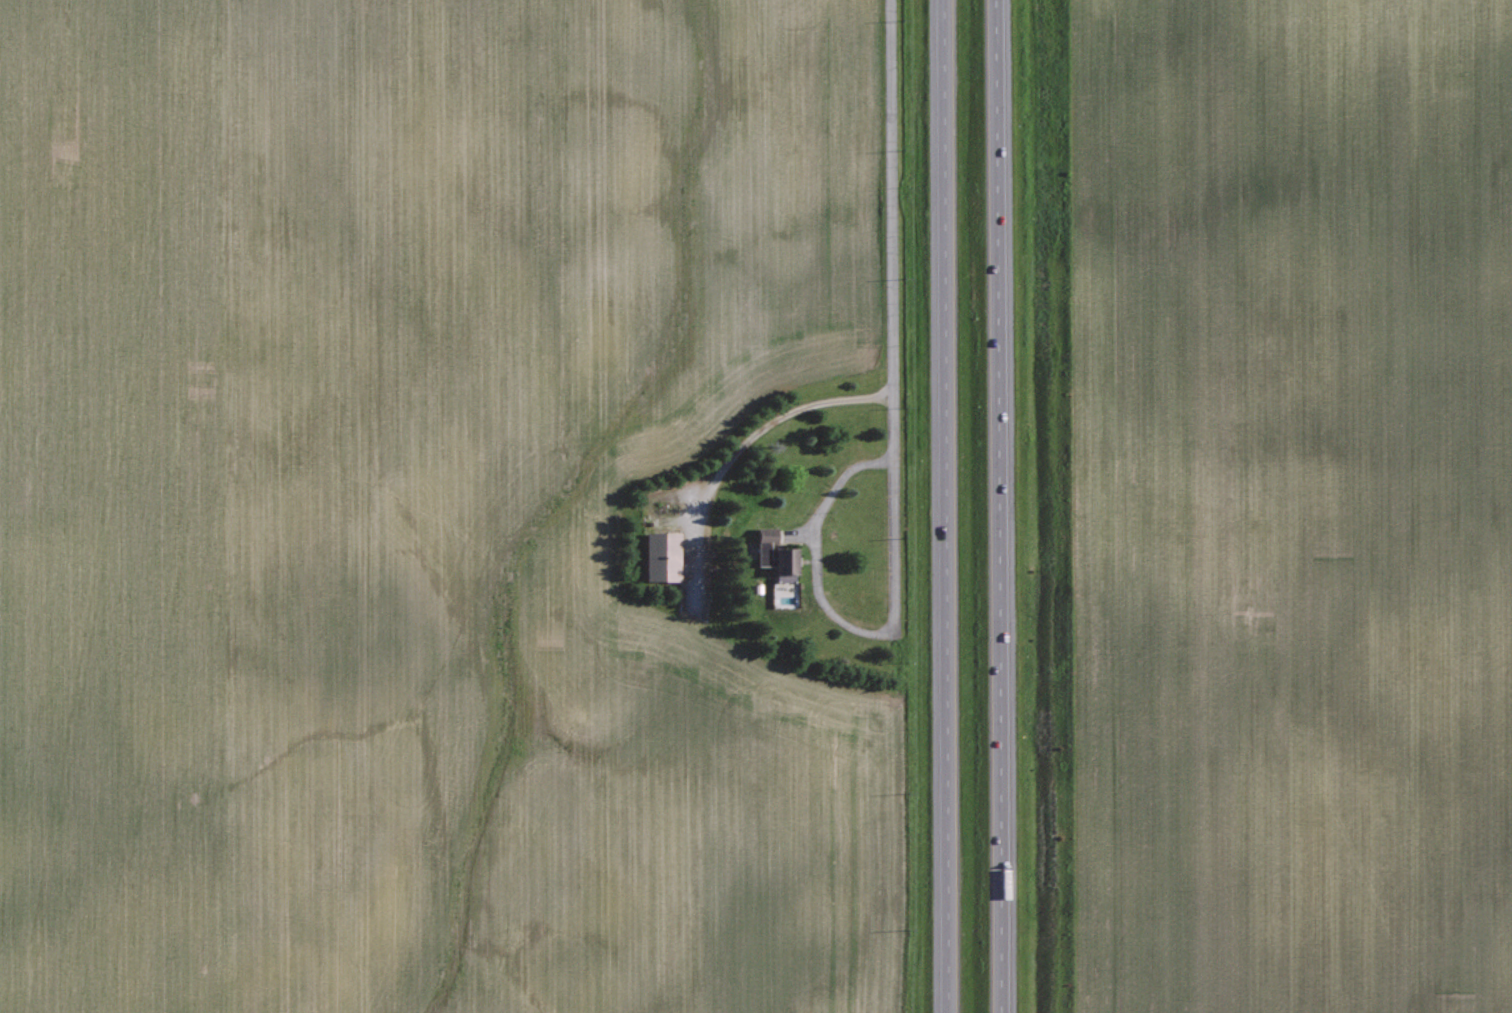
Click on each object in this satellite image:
road: (891, 315)
road: (736, 452)
crop: (1288, 505)
road: (946, 506)
road: (1000, 506)
building: (766, 544)
road: (814, 549)
building: (663, 556)
building: (786, 565)

